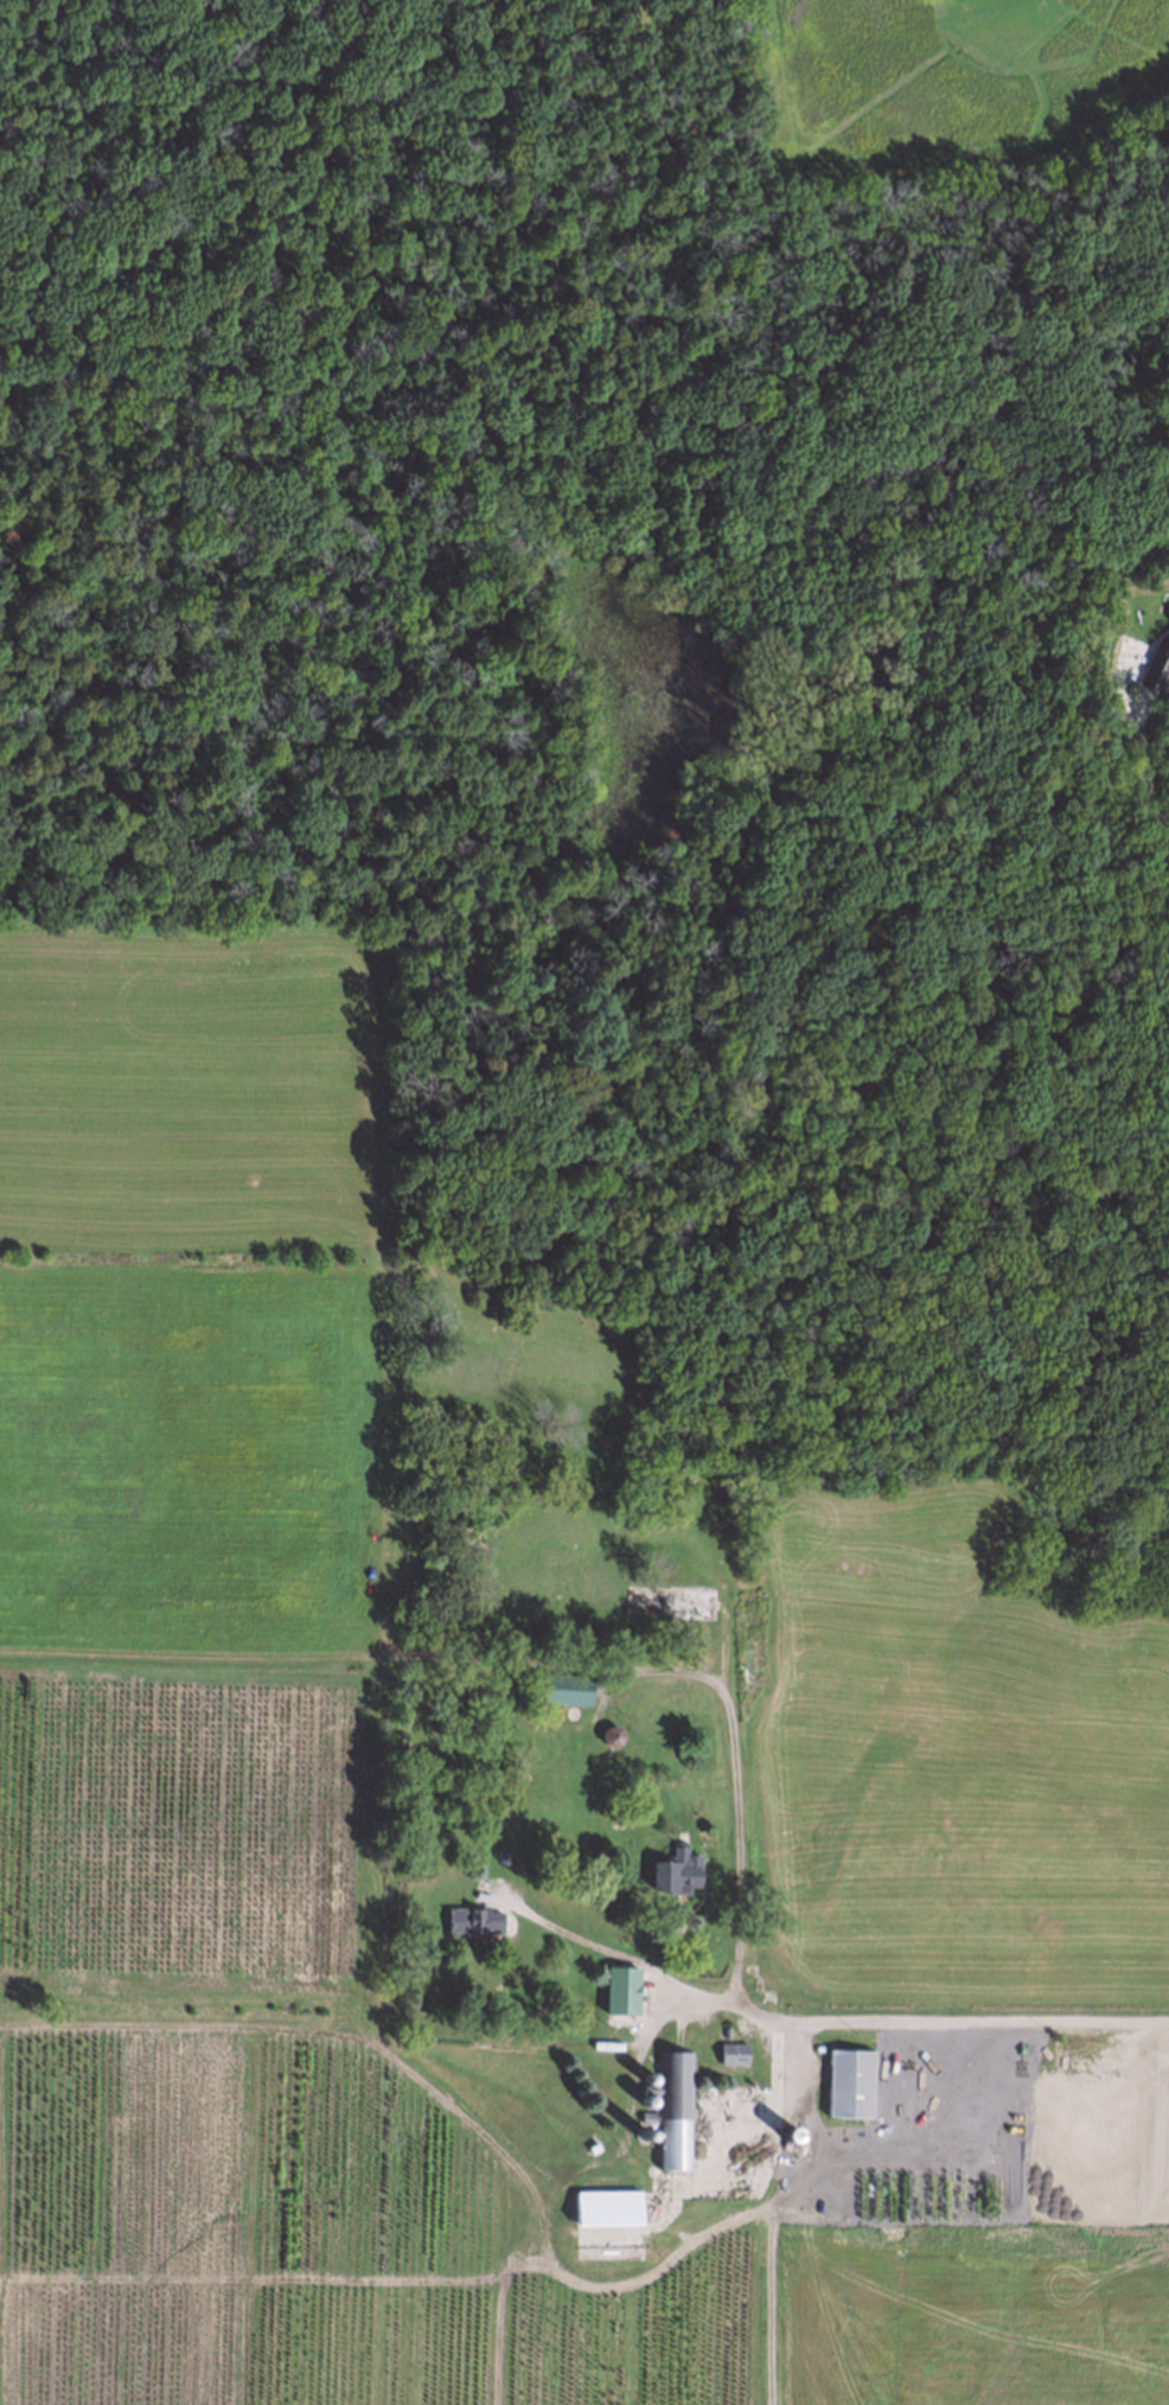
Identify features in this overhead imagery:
building: (1155, 665)
road: (1142, 777)
building: (671, 1597)
building: (558, 1685)
building: (608, 1737)
road: (742, 1781)
building: (675, 1869)
building: (469, 1916)
building: (626, 1988)
road: (854, 2022)
building: (733, 2052)
building: (646, 2073)
building: (847, 2080)
building: (645, 2097)
building: (673, 2107)
building: (640, 2127)
building: (788, 2131)
road: (779, 2200)
building: (603, 2203)

